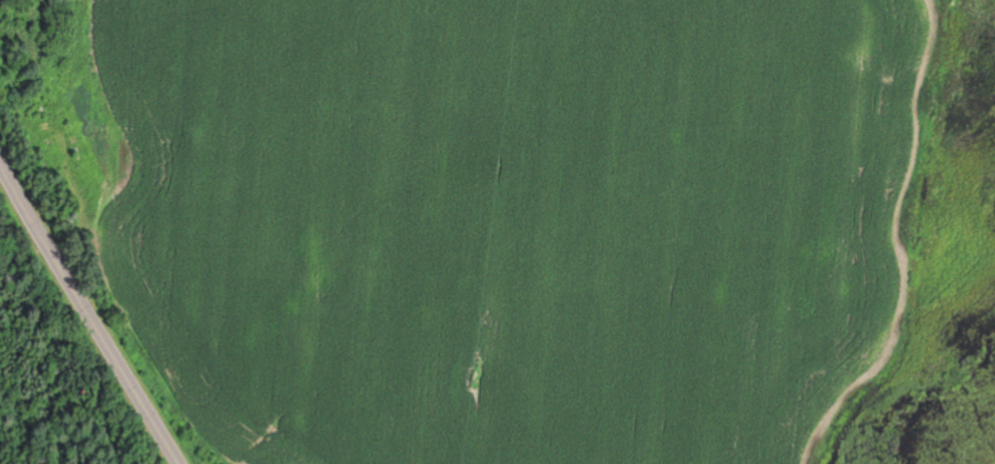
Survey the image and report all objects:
road: (89, 311)

